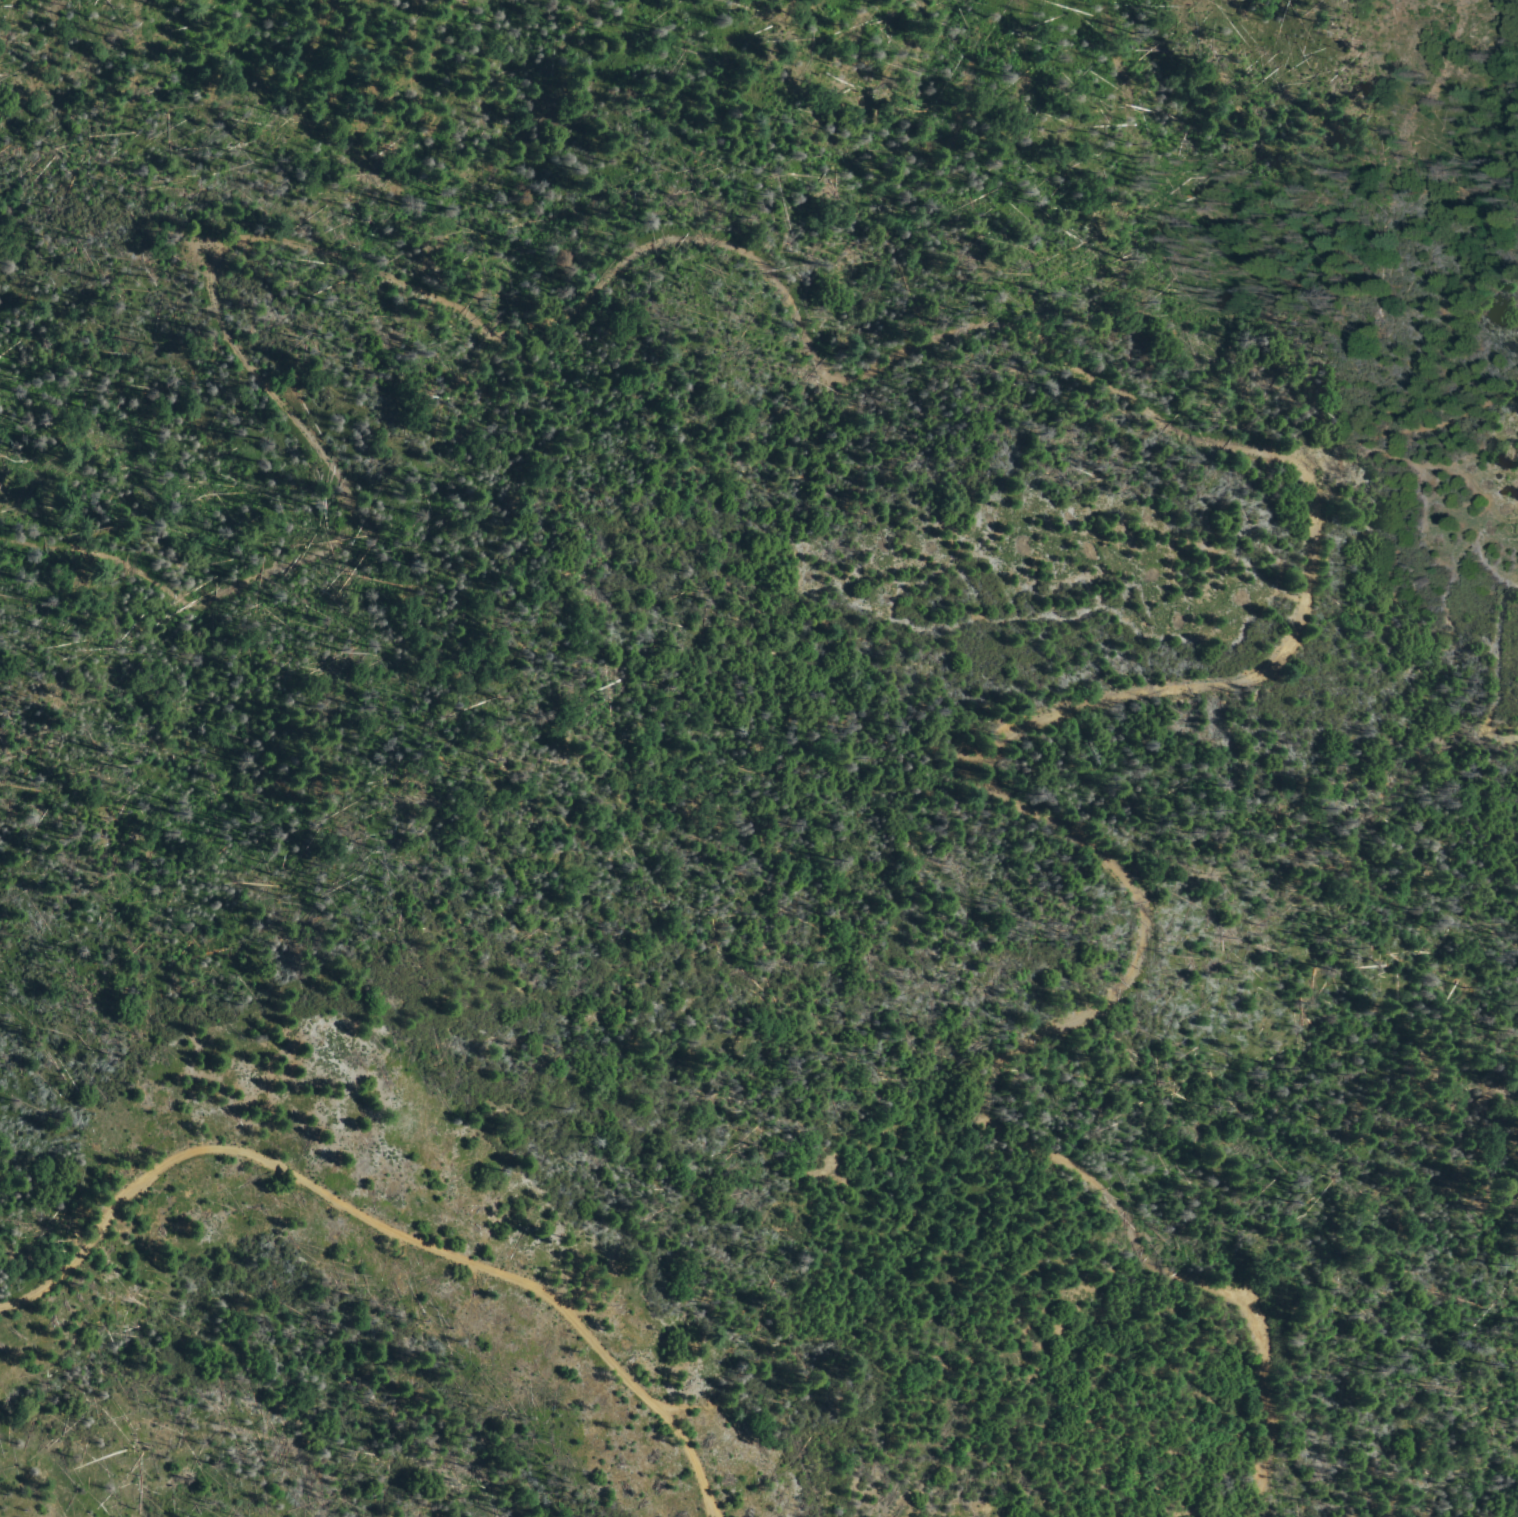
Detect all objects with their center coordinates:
road: (1148, 406)
road: (1158, 943)
road: (107, 1224)
road: (509, 1280)

